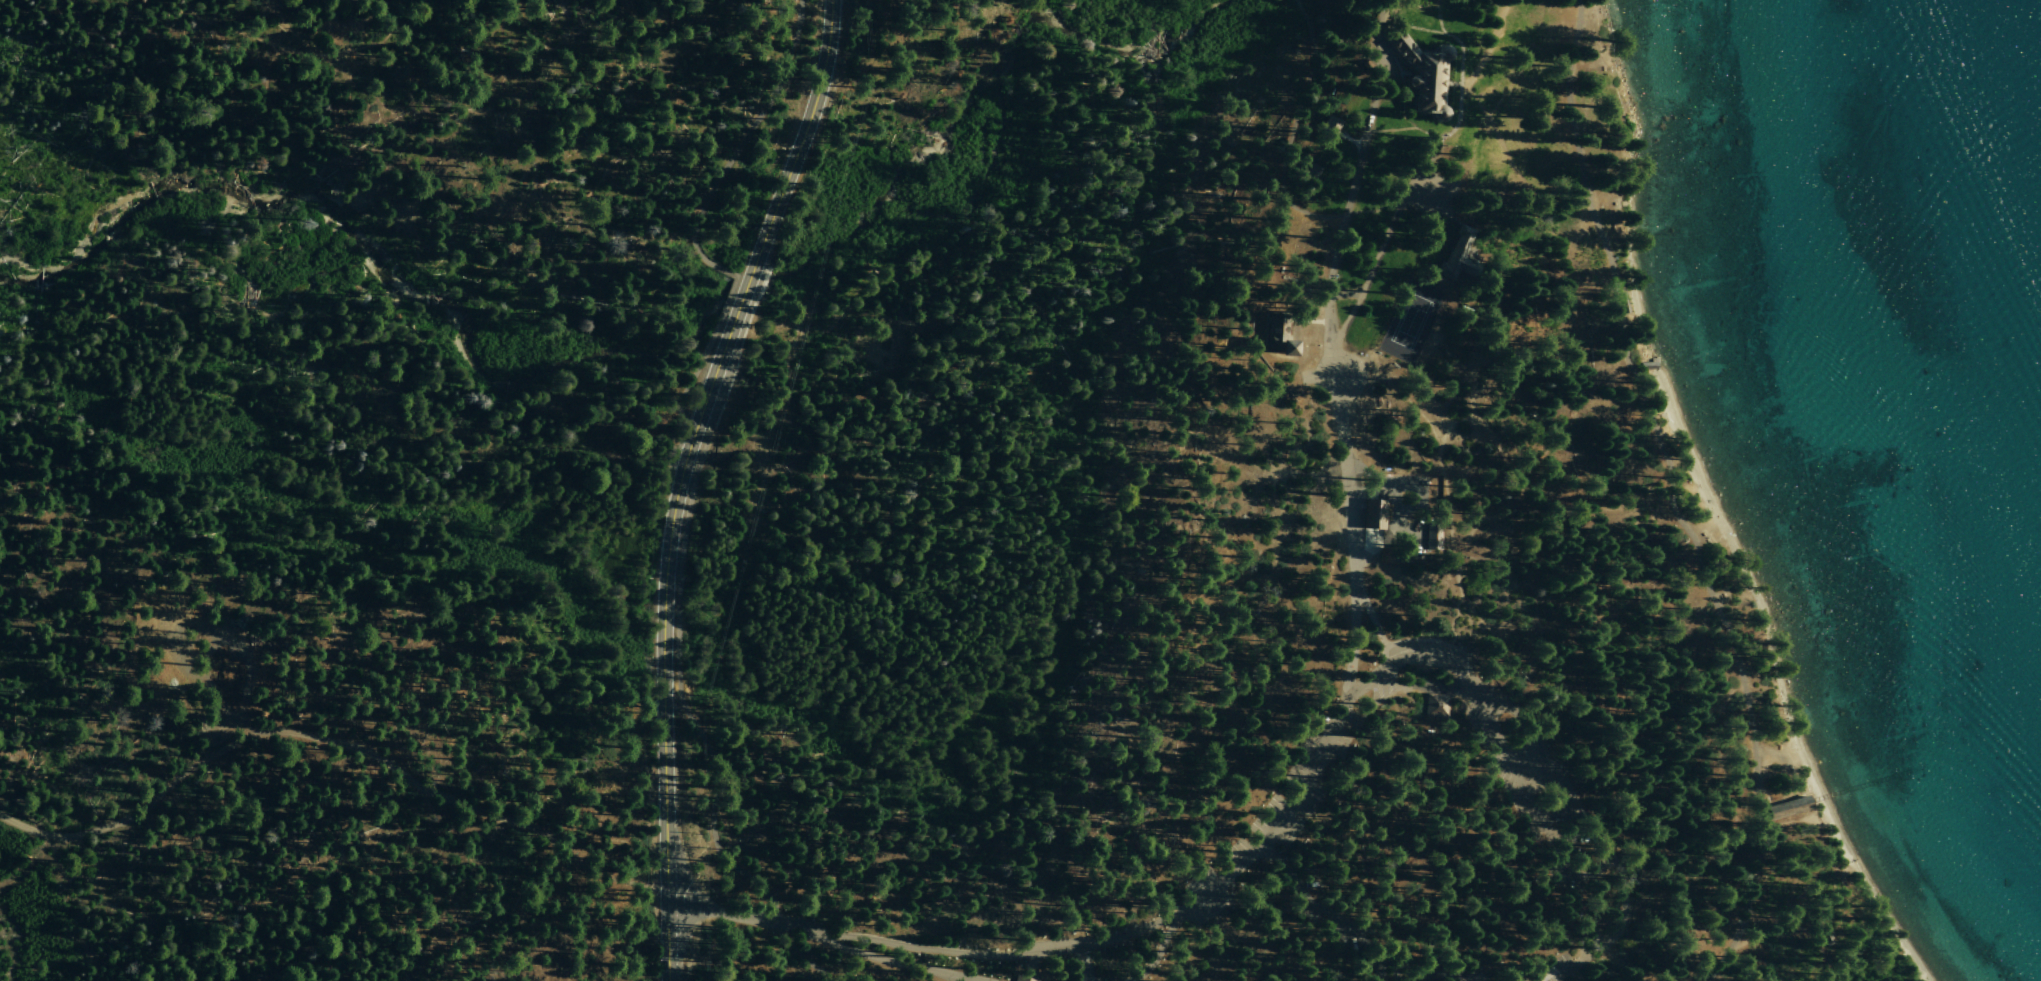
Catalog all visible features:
road: (295, 47)
road: (1482, 53)
building: (1420, 70)
road: (1295, 125)
building: (1330, 129)
road: (1349, 136)
road: (798, 143)
road: (741, 149)
building: (1312, 174)
road: (1407, 188)
road: (1371, 202)
building: (1456, 252)
road: (726, 300)
road: (739, 300)
park: (1409, 319)
building: (1279, 332)
road: (1330, 346)
road: (1673, 502)
building: (1372, 512)
building: (1431, 537)
road: (1373, 622)
road: (662, 645)
road: (1403, 653)
road: (678, 665)
building: (1438, 704)
road: (359, 751)
railway: (1858, 788)
road: (1525, 800)
building: (1787, 805)
road: (1285, 807)
parking lot: (1278, 815)
road: (124, 820)
road: (1592, 827)
road: (571, 854)
road: (731, 914)
road: (1337, 926)
road: (1786, 938)
road: (1170, 946)
road: (1003, 954)
road: (885, 960)
road: (1075, 963)

